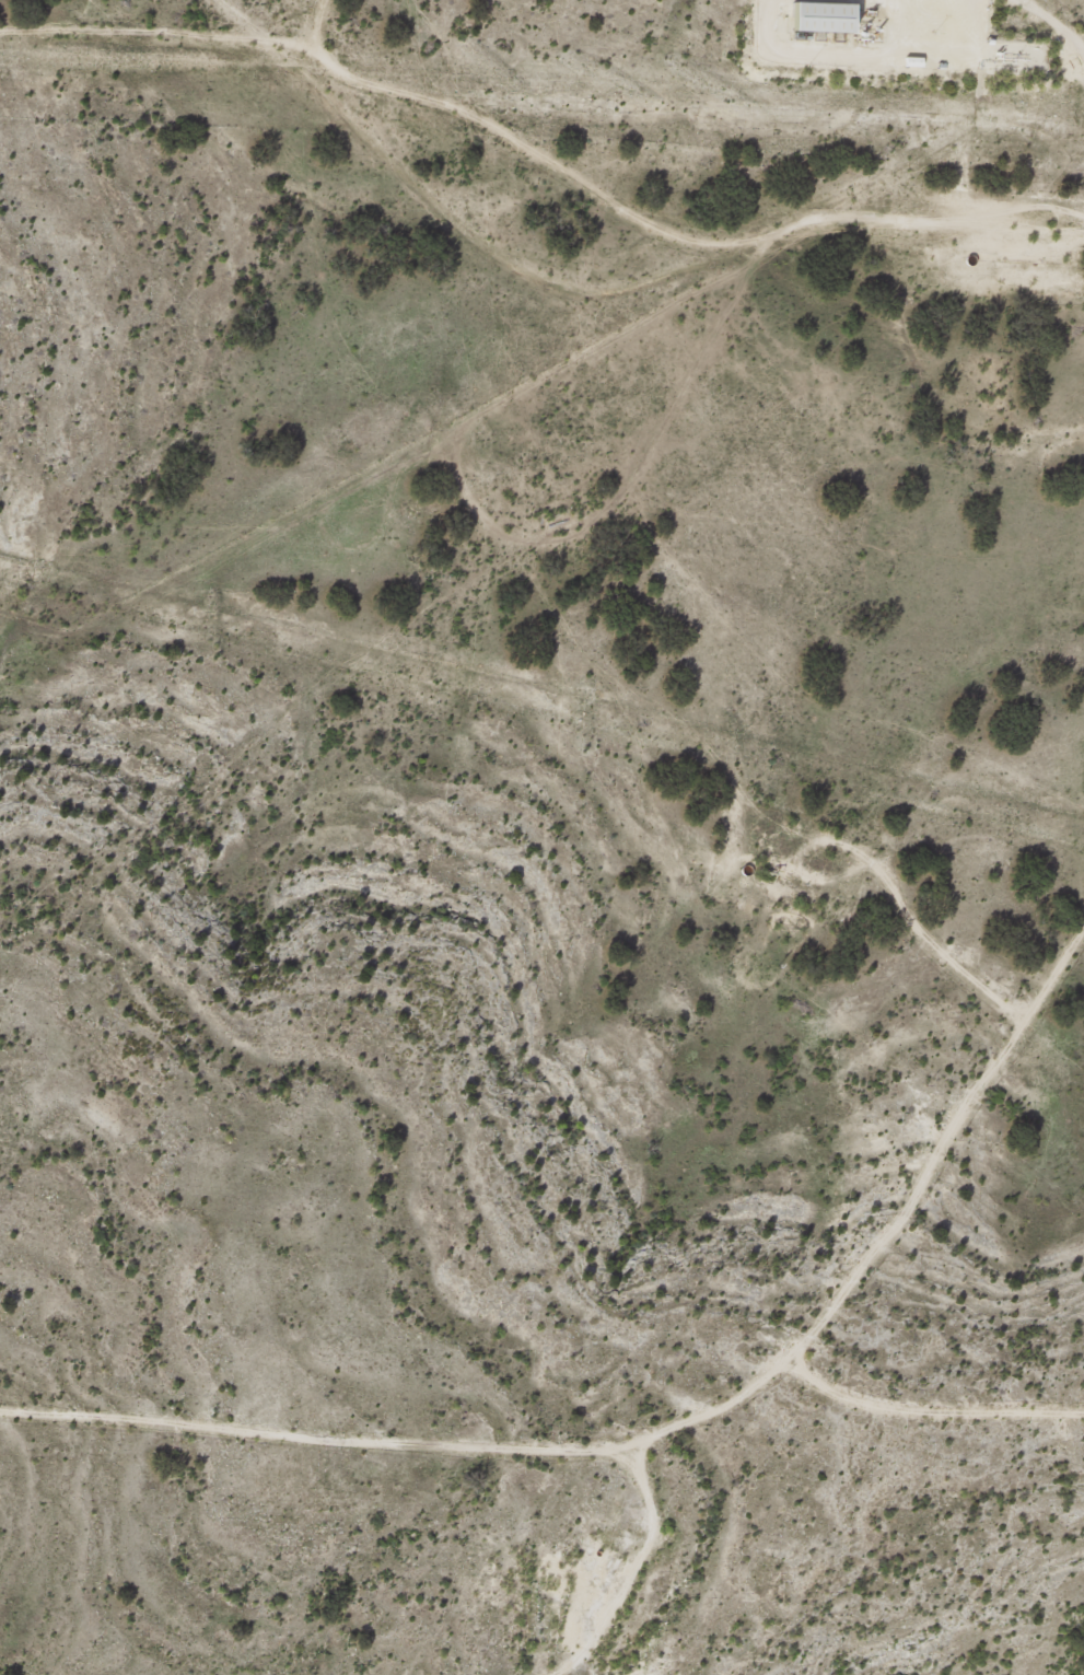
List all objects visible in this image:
building: (828, 18)
road: (628, 280)
road: (639, 1385)

